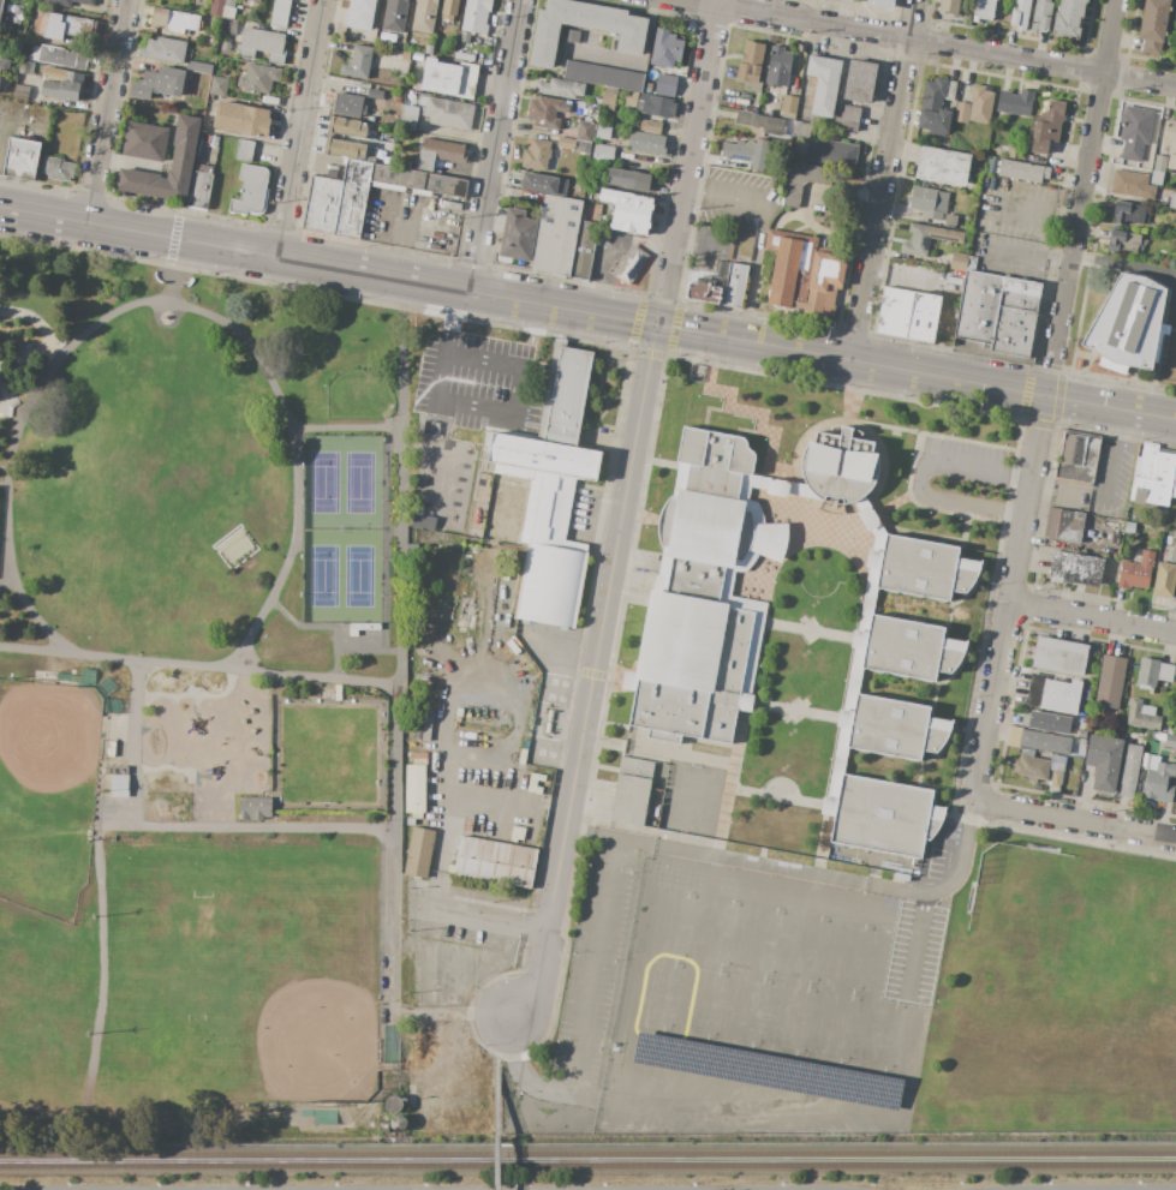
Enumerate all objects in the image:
building: (255, 0)
building: (70, 2)
road: (717, 2)
building: (229, 4)
building: (879, 4)
building: (0, 5)
building: (216, 7)
building: (949, 7)
building: (449, 8)
building: (983, 10)
building: (227, 13)
building: (280, 13)
building: (360, 14)
building: (1020, 14)
building: (394, 16)
building: (424, 16)
building: (476, 16)
building: (1040, 16)
building: (1068, 19)
building: (173, 20)
building: (1153, 25)
building: (227, 26)
building: (65, 28)
building: (573, 36)
building: (465, 37)
building: (211, 41)
building: (629, 42)
road: (933, 42)
building: (1175, 43)
building: (262, 44)
building: (225, 46)
building: (665, 48)
building: (428, 49)
building: (163, 50)
building: (59, 56)
building: (405, 56)
building: (462, 56)
building: (25, 58)
building: (358, 62)
building: (750, 62)
building: (4, 66)
building: (778, 66)
building: (25, 67)
building: (199, 67)
building: (603, 76)
building: (441, 77)
building: (258, 78)
building: (467, 80)
building: (23, 82)
building: (859, 82)
building: (159, 83)
building: (61, 84)
building: (823, 84)
building: (217, 85)
building: (665, 85)
building: (344, 86)
building: (560, 88)
building: (20, 91)
building: (375, 94)
building: (608, 97)
building: (398, 98)
building: (629, 98)
building: (597, 101)
building: (1014, 102)
building: (348, 104)
building: (656, 106)
building: (788, 106)
building: (936, 106)
building: (974, 107)
road: (105, 112)
building: (547, 112)
building: (448, 113)
building: (408, 118)
building: (240, 119)
building: (846, 119)
building: (760, 122)
building: (650, 125)
building: (1046, 127)
road: (298, 130)
building: (585, 131)
building: (603, 132)
building: (1135, 132)
building: (356, 136)
building: (208, 139)
building: (211, 140)
building: (145, 142)
building: (215, 142)
building: (566, 143)
building: (646, 143)
building: (1171, 143)
road: (493, 146)
building: (581, 146)
building: (245, 150)
building: (746, 153)
building: (831, 153)
building: (440, 154)
building: (536, 154)
building: (603, 154)
building: (183, 157)
building: (22, 159)
building: (1160, 163)
road: (688, 166)
building: (942, 167)
building: (203, 168)
building: (58, 169)
building: (1022, 171)
building: (1156, 178)
building: (627, 179)
road: (885, 180)
building: (416, 181)
building: (802, 181)
building: (542, 184)
building: (1132, 185)
building: (199, 190)
building: (251, 191)
road: (726, 195)
road: (1081, 197)
building: (1172, 199)
building: (339, 202)
building: (929, 202)
building: (628, 210)
road: (1027, 210)
building: (1129, 214)
building: (949, 220)
building: (518, 235)
building: (556, 235)
road: (174, 238)
road: (389, 239)
building: (926, 239)
building: (1123, 243)
building: (583, 250)
road: (1022, 256)
building: (959, 262)
road: (1123, 262)
road: (297, 263)
building: (971, 263)
building: (629, 264)
building: (802, 274)
road: (602, 277)
road: (173, 281)
building: (734, 285)
building: (709, 286)
road: (162, 300)
building: (907, 315)
building: (996, 318)
road: (626, 321)
building: (1127, 323)
traffic signals: (657, 327)
building: (482, 346)
road: (632, 349)
park: (22, 352)
road: (850, 361)
road: (473, 379)
building: (567, 396)
road: (12, 397)
road: (518, 399)
road: (1110, 407)
building: (429, 420)
building: (446, 420)
road: (1055, 426)
building: (754, 456)
building: (1077, 456)
building: (541, 458)
road: (1116, 460)
building: (837, 466)
building: (1152, 477)
road: (915, 478)
building: (1174, 483)
road: (401, 484)
building: (480, 500)
building: (548, 509)
building: (1063, 525)
building: (1129, 527)
park: (342, 532)
building: (1174, 555)
building: (1075, 568)
building: (1136, 572)
road: (4, 580)
building: (1164, 580)
building: (551, 584)
building: (705, 593)
road: (1009, 598)
building: (505, 606)
building: (479, 614)
road: (1092, 618)
road: (520, 629)
building: (499, 639)
building: (506, 651)
building: (1059, 657)
building: (505, 660)
road: (197, 665)
building: (1165, 672)
road: (593, 674)
building: (1147, 674)
building: (924, 677)
building: (1110, 682)
building: (338, 692)
building: (1052, 694)
building: (1175, 694)
road: (448, 701)
park: (199, 708)
building: (1142, 716)
building: (1046, 723)
building: (426, 725)
building: (1170, 731)
building: (527, 732)
building: (419, 734)
building: (1081, 735)
building: (1013, 737)
building: (1170, 741)
building: (1045, 742)
building: (1081, 742)
road: (137, 743)
building: (111, 749)
building: (523, 757)
building: (1104, 761)
building: (1031, 767)
building: (115, 770)
building: (1129, 771)
building: (537, 777)
building: (535, 783)
building: (1159, 783)
building: (119, 785)
building: (531, 789)
building: (414, 790)
building: (537, 790)
building: (631, 791)
park: (44, 795)
road: (490, 801)
building: (253, 808)
building: (656, 812)
road: (1077, 820)
building: (411, 823)
building: (468, 824)
road: (100, 832)
building: (519, 835)
road: (607, 837)
road: (388, 848)
building: (419, 853)
building: (495, 861)
building: (452, 868)
road: (844, 879)
road: (488, 917)
park: (1064, 947)
road: (425, 950)
parking lot: (590, 964)
park: (778, 964)
park: (29, 970)
park: (240, 980)
road: (453, 1013)
park: (42, 1017)
road: (579, 1019)
road: (505, 1040)
building: (766, 1071)
building: (393, 1105)
building: (398, 1124)
building: (383, 1128)
railway: (587, 1156)
railway: (587, 1167)
park: (578, 1184)
road: (1077, 1188)
road: (423, 1189)

